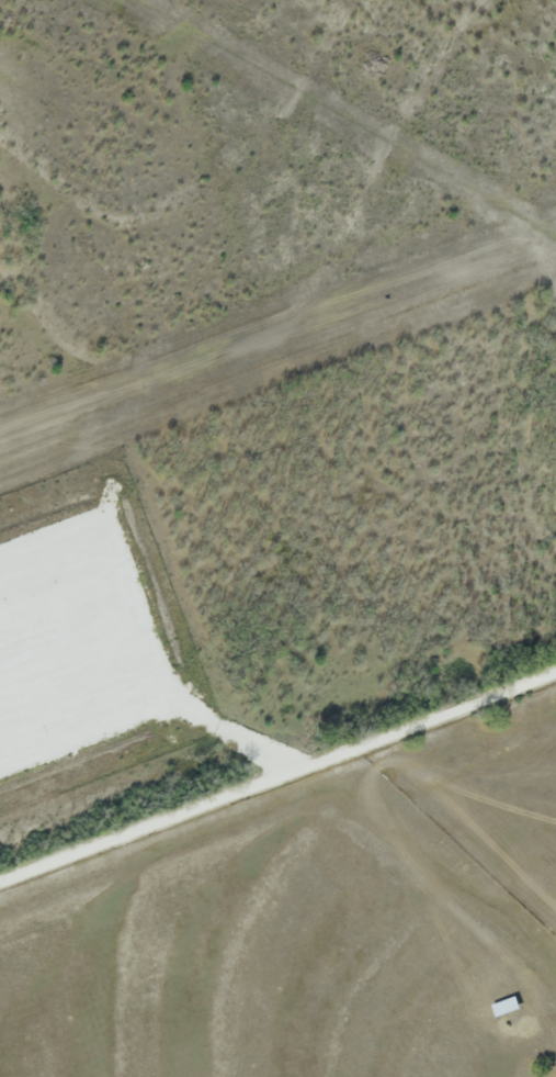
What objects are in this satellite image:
road: (277, 782)

